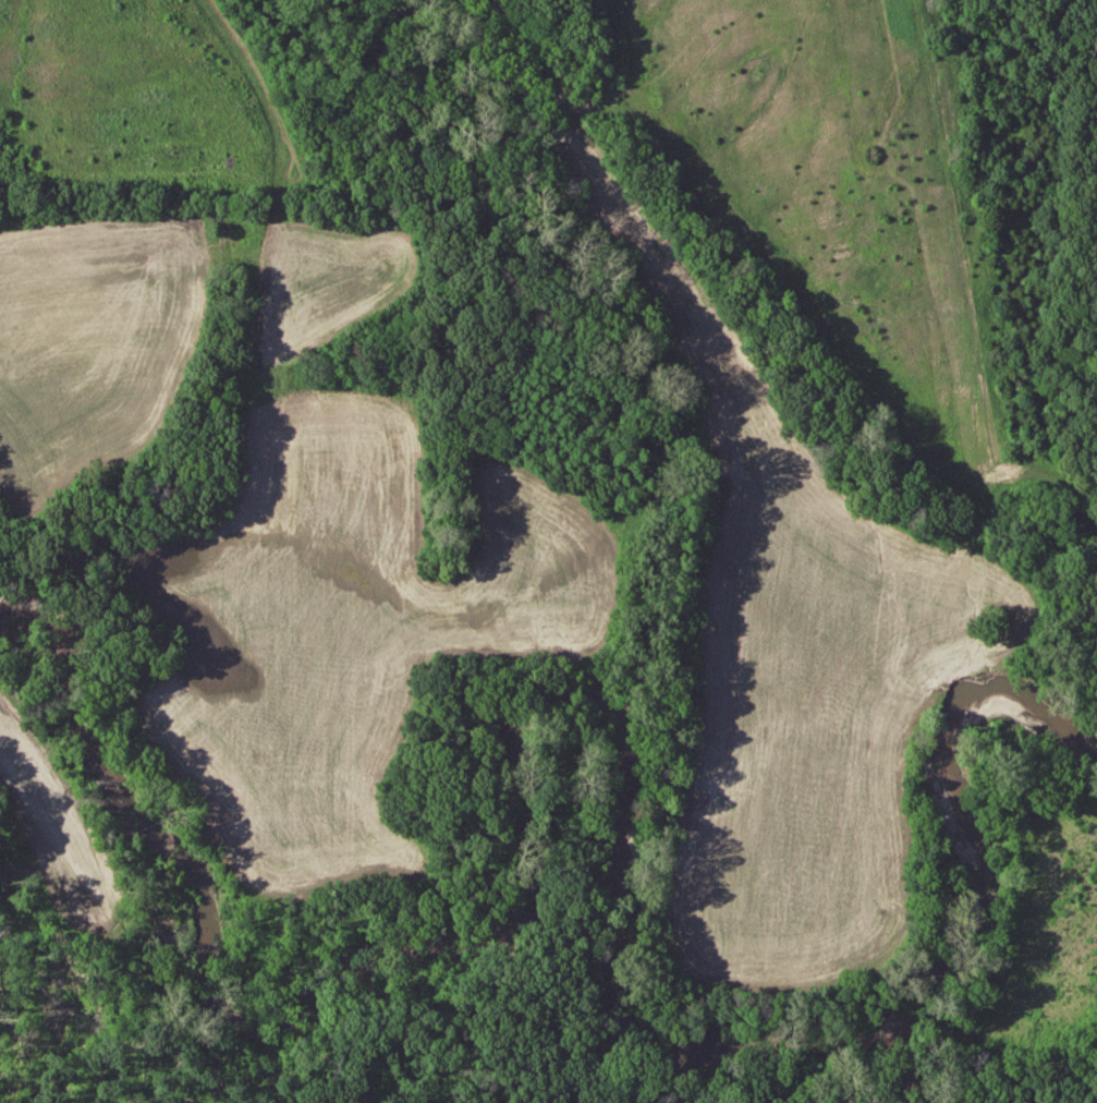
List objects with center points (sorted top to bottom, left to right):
river: (963, 850)

